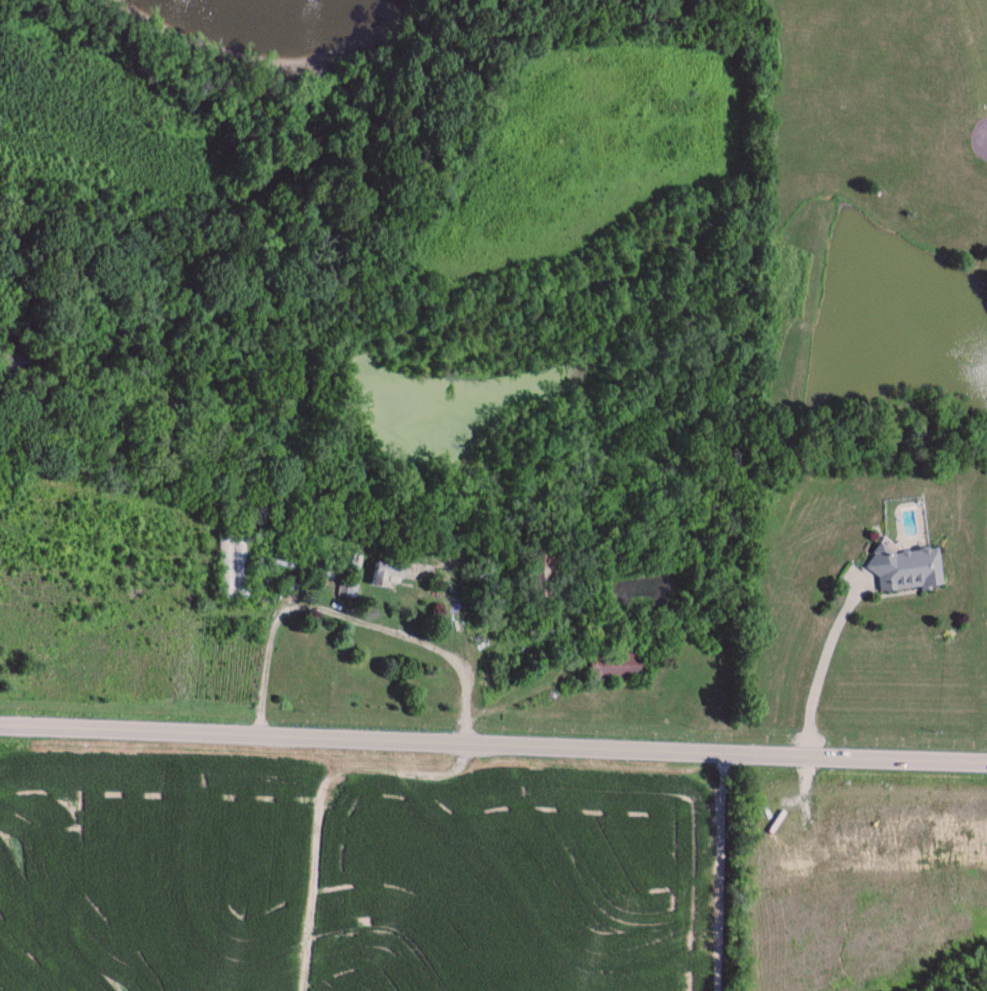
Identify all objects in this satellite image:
building: (235, 568)
building: (909, 569)
building: (549, 573)
building: (392, 574)
road: (349, 618)
road: (824, 664)
building: (616, 668)
road: (493, 739)
road: (320, 801)
road: (721, 869)

